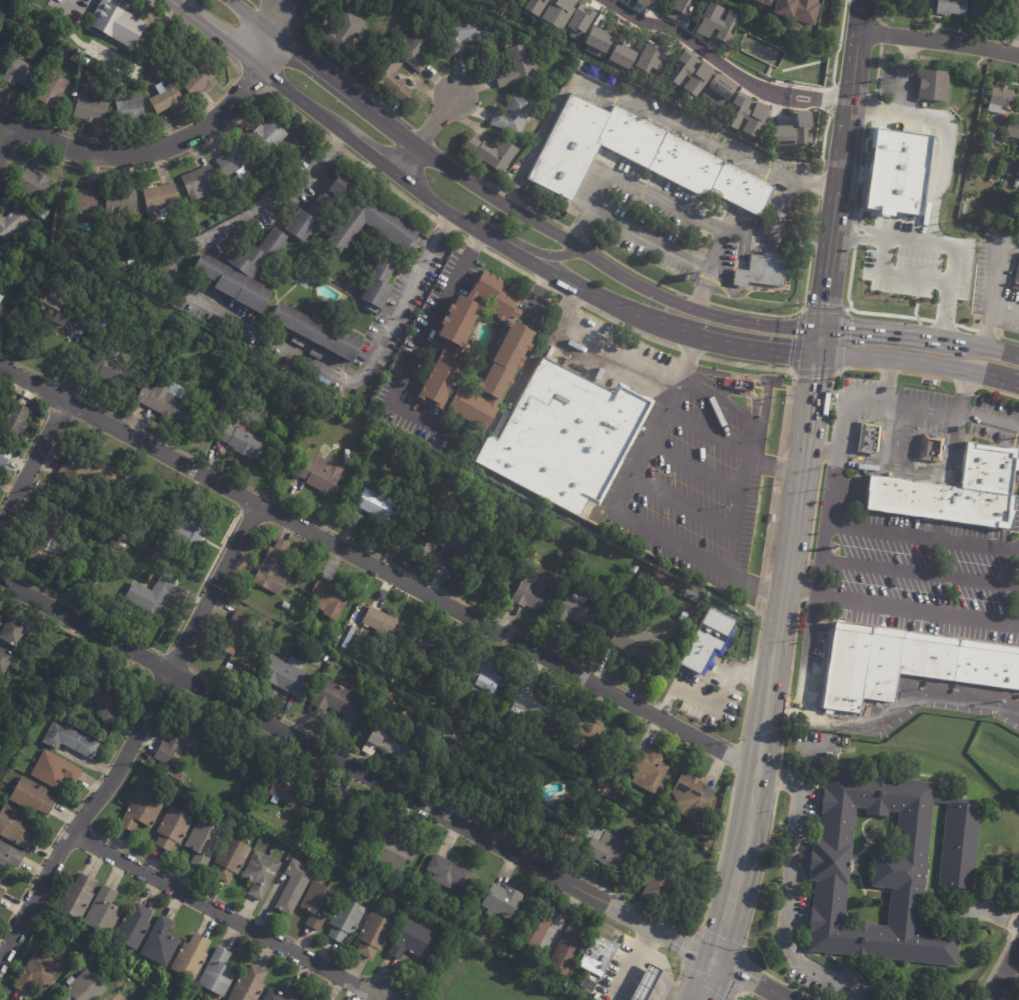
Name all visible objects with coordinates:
building: (643, 2)
building: (766, 2)
road: (252, 3)
building: (532, 7)
building: (949, 7)
road: (62, 8)
building: (976, 9)
building: (1014, 9)
road: (181, 10)
building: (677, 10)
building: (797, 10)
building: (556, 12)
road: (247, 13)
road: (876, 13)
road: (273, 15)
building: (11, 20)
road: (272, 20)
building: (578, 20)
building: (118, 23)
building: (714, 23)
building: (343, 32)
building: (465, 33)
road: (882, 33)
road: (689, 40)
road: (939, 41)
building: (595, 42)
road: (224, 43)
road: (260, 47)
building: (416, 50)
building: (2, 53)
road: (887, 53)
road: (907, 55)
building: (618, 58)
building: (647, 59)
road: (950, 61)
road: (309, 62)
road: (834, 63)
building: (517, 66)
road: (877, 69)
building: (689, 73)
building: (22, 74)
road: (903, 75)
building: (200, 77)
building: (391, 77)
road: (253, 80)
road: (351, 80)
road: (783, 82)
building: (930, 85)
building: (717, 89)
building: (52, 90)
road: (778, 92)
road: (850, 93)
road: (818, 94)
road: (777, 97)
road: (295, 98)
building: (167, 99)
road: (831, 99)
building: (999, 99)
road: (817, 104)
road: (873, 108)
building: (92, 109)
building: (129, 110)
building: (514, 114)
building: (745, 115)
building: (985, 120)
road: (180, 123)
building: (1012, 132)
road: (425, 133)
building: (268, 134)
building: (789, 134)
road: (7, 136)
road: (423, 136)
road: (20, 139)
building: (309, 140)
road: (702, 140)
road: (538, 141)
road: (334, 142)
road: (823, 143)
road: (364, 150)
road: (140, 151)
building: (494, 153)
building: (239, 159)
road: (171, 161)
building: (640, 161)
building: (1018, 162)
road: (865, 165)
road: (466, 169)
building: (1004, 170)
building: (895, 171)
building: (198, 181)
road: (387, 183)
road: (819, 184)
building: (1014, 184)
building: (345, 188)
road: (934, 188)
building: (36, 189)
road: (509, 196)
building: (122, 199)
building: (160, 200)
road: (663, 201)
building: (78, 204)
road: (782, 204)
road: (834, 206)
building: (1017, 212)
road: (541, 213)
road: (816, 213)
building: (308, 218)
building: (12, 223)
parking lot: (650, 223)
building: (375, 224)
road: (442, 224)
road: (745, 225)
road: (467, 227)
road: (857, 229)
road: (855, 230)
road: (575, 232)
road: (830, 232)
road: (800, 234)
road: (458, 235)
road: (909, 235)
road: (510, 238)
building: (45, 239)
road: (648, 239)
parking lot: (760, 239)
road: (812, 239)
road: (474, 244)
road: (570, 245)
building: (259, 252)
parking lot: (911, 260)
road: (507, 264)
road: (635, 271)
road: (896, 272)
building: (764, 274)
road: (849, 277)
building: (306, 280)
building: (1016, 280)
building: (233, 283)
road: (542, 283)
road: (822, 283)
building: (380, 284)
road: (556, 290)
parking lot: (998, 290)
road: (537, 292)
road: (992, 296)
building: (1, 297)
building: (497, 297)
road: (572, 298)
road: (698, 299)
building: (53, 308)
road: (1005, 308)
road: (800, 310)
road: (617, 311)
building: (3, 312)
road: (785, 315)
road: (888, 315)
building: (459, 322)
road: (943, 322)
building: (101, 325)
road: (243, 325)
traffic signals: (816, 327)
road: (628, 328)
road: (965, 328)
road: (867, 330)
building: (317, 332)
road: (987, 333)
road: (424, 335)
road: (1008, 338)
road: (930, 339)
building: (299, 341)
road: (815, 341)
road: (981, 349)
road: (752, 350)
road: (689, 352)
building: (316, 353)
parking lot: (604, 354)
traffic signals: (814, 356)
building: (476, 358)
road: (900, 360)
building: (111, 367)
road: (787, 370)
road: (887, 370)
road: (924, 375)
building: (495, 377)
building: (442, 379)
road: (997, 379)
road: (884, 381)
building: (929, 381)
road: (831, 383)
road: (966, 383)
road: (1014, 384)
building: (737, 387)
road: (999, 391)
road: (53, 395)
road: (708, 395)
building: (831, 395)
building: (167, 400)
road: (893, 405)
parking lot: (892, 408)
building: (15, 419)
building: (363, 421)
road: (988, 421)
road: (804, 431)
road: (890, 435)
building: (564, 438)
building: (872, 439)
building: (242, 441)
parking lot: (911, 444)
road: (728, 446)
building: (929, 449)
road: (24, 453)
road: (821, 453)
building: (363, 455)
building: (3, 456)
road: (31, 463)
road: (779, 466)
road: (695, 468)
building: (88, 471)
building: (355, 471)
road: (919, 471)
building: (320, 473)
parking lot: (695, 489)
building: (952, 493)
road: (245, 499)
building: (125, 504)
road: (685, 506)
building: (381, 507)
road: (619, 509)
building: (6, 517)
road: (812, 520)
road: (770, 527)
road: (328, 529)
road: (875, 529)
building: (189, 530)
building: (467, 532)
building: (46, 533)
building: (101, 534)
building: (127, 535)
building: (121, 544)
building: (274, 568)
road: (377, 568)
building: (635, 570)
parking lot: (914, 570)
road: (919, 572)
building: (624, 588)
road: (763, 588)
road: (801, 589)
building: (535, 593)
building: (152, 595)
building: (692, 596)
building: (330, 599)
building: (286, 606)
road: (899, 610)
building: (575, 611)
road: (812, 611)
road: (38, 614)
road: (1016, 621)
building: (385, 623)
road: (758, 628)
building: (12, 630)
building: (235, 632)
building: (337, 637)
building: (708, 640)
building: (73, 641)
building: (638, 641)
road: (153, 648)
building: (426, 652)
road: (792, 652)
building: (905, 660)
building: (5, 661)
road: (176, 661)
road: (751, 672)
building: (285, 674)
building: (487, 679)
road: (767, 688)
building: (387, 689)
road: (722, 694)
building: (103, 698)
building: (339, 700)
road: (666, 702)
building: (386, 705)
road: (665, 706)
building: (539, 708)
road: (893, 708)
road: (784, 712)
road: (135, 734)
building: (593, 736)
building: (71, 740)
building: (180, 742)
building: (388, 742)
road: (729, 743)
building: (544, 744)
road: (780, 747)
road: (737, 757)
building: (649, 769)
building: (55, 770)
road: (357, 770)
building: (543, 770)
building: (176, 774)
road: (776, 780)
building: (611, 785)
building: (285, 789)
building: (692, 796)
building: (32, 797)
building: (490, 797)
building: (595, 799)
building: (606, 804)
building: (349, 807)
building: (142, 810)
road: (78, 823)
building: (545, 823)
building: (15, 827)
building: (173, 828)
building: (359, 835)
road: (52, 839)
road: (514, 841)
building: (709, 842)
building: (204, 843)
building: (604, 846)
building: (395, 849)
building: (643, 850)
building: (10, 856)
building: (231, 859)
building: (885, 869)
building: (451, 873)
building: (261, 874)
building: (371, 880)
building: (379, 884)
building: (660, 885)
building: (295, 886)
building: (412, 889)
road: (786, 890)
building: (2, 893)
building: (77, 897)
building: (502, 901)
building: (319, 905)
road: (236, 908)
building: (103, 913)
road: (725, 914)
road: (750, 915)
road: (221, 916)
building: (346, 920)
building: (134, 927)
road: (1013, 932)
building: (533, 934)
building: (374, 935)
building: (410, 940)
road: (645, 940)
building: (161, 943)
building: (567, 952)
building: (599, 956)
building: (191, 958)
traffic signals: (714, 962)
road: (686, 966)
road: (681, 967)
road: (664, 970)
road: (991, 971)
building: (38, 973)
building: (218, 973)
road: (1005, 974)
road: (626, 976)
road: (706, 981)
road: (748, 981)
building: (593, 982)
building: (643, 983)
gas station: (649, 984)
building: (249, 985)
building: (84, 988)
building: (196, 990)
road: (673, 990)
road: (1013, 990)
road: (740, 993)
building: (294, 994)
road: (666, 994)

